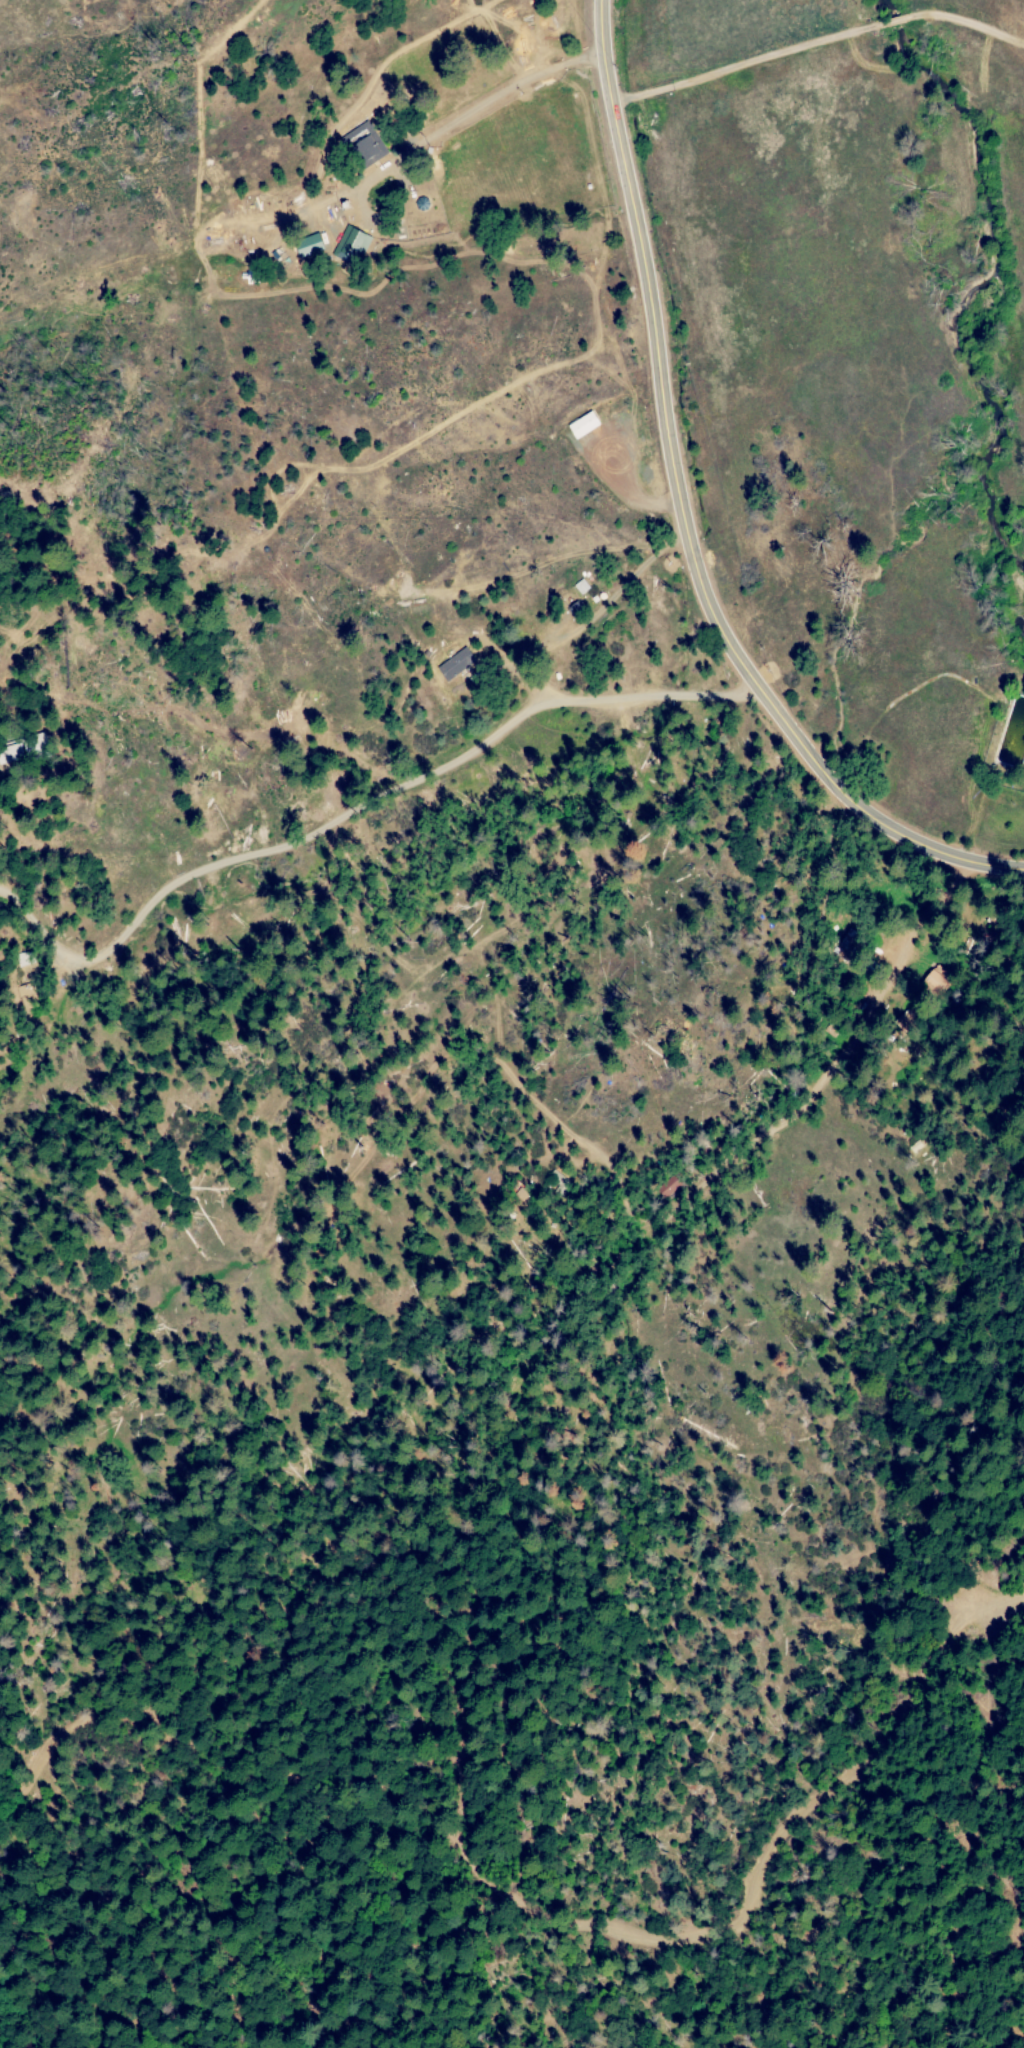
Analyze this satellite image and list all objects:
road: (470, 6)
road: (817, 44)
road: (379, 66)
road: (199, 106)
road: (458, 116)
building: (360, 145)
road: (347, 190)
building: (305, 245)
building: (349, 245)
road: (310, 286)
road: (523, 377)
road: (624, 490)
road: (681, 517)
road: (251, 538)
road: (535, 565)
road: (591, 616)
building: (453, 663)
road: (387, 790)
road: (24, 914)

